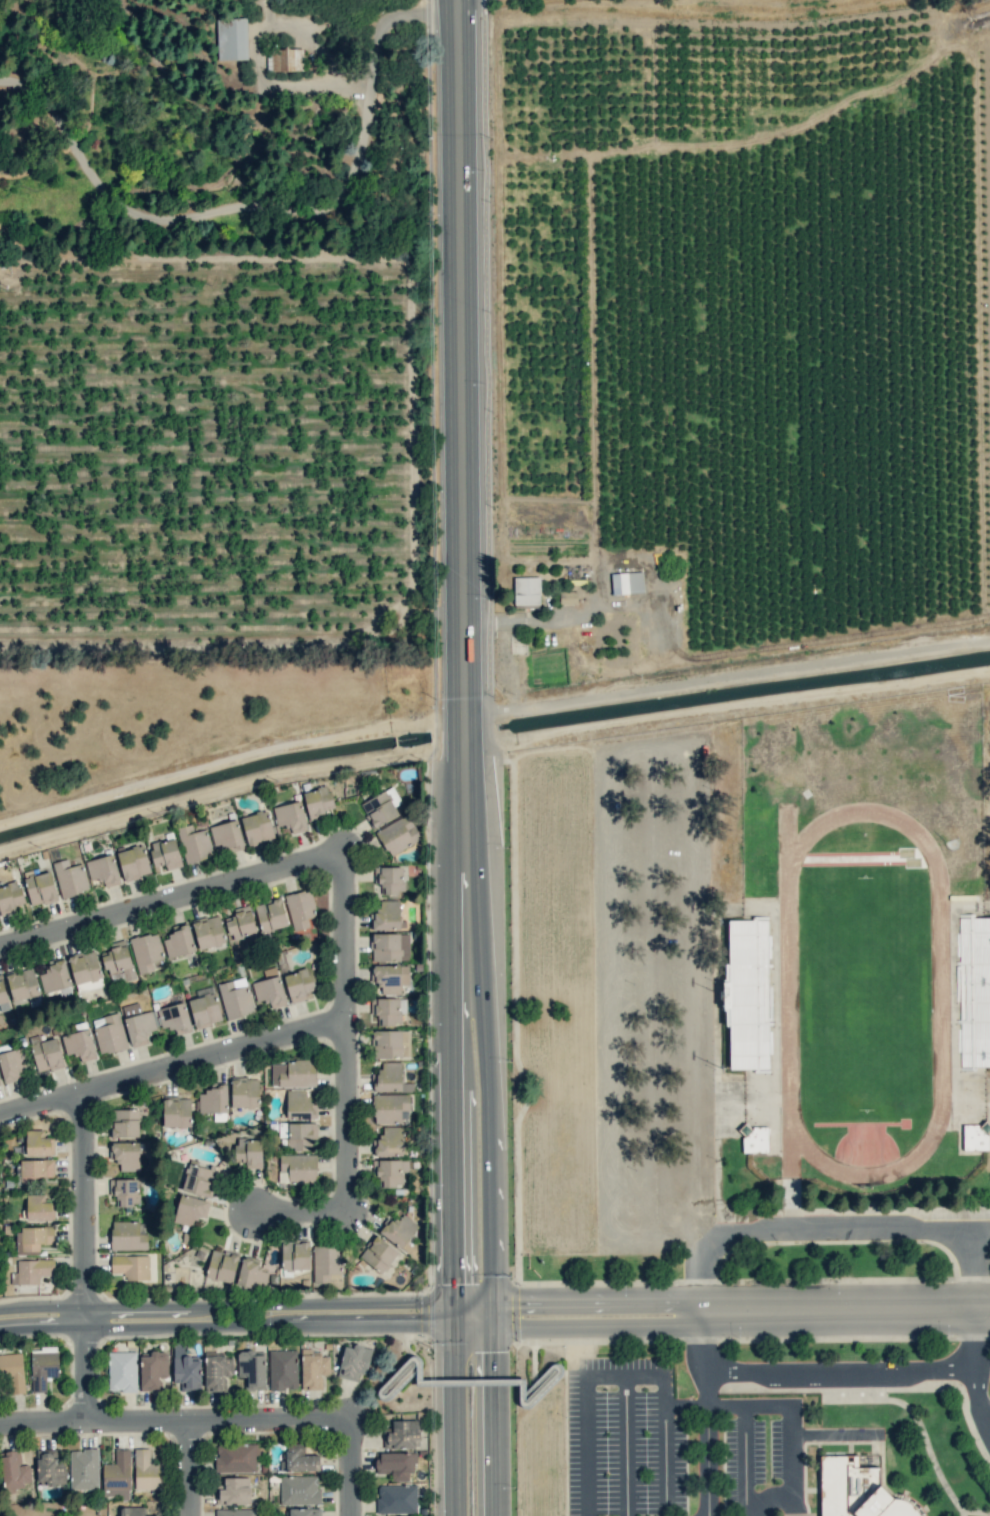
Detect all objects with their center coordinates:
road: (548, 8)
building: (232, 38)
building: (284, 59)
road: (267, 205)
road: (462, 497)
road: (598, 580)
building: (627, 582)
building: (527, 591)
building: (568, 597)
road: (727, 675)
building: (317, 802)
building: (381, 807)
building: (290, 816)
building: (257, 827)
building: (398, 835)
building: (227, 836)
building: (194, 843)
building: (165, 853)
building: (134, 862)
building: (103, 870)
building: (70, 878)
building: (390, 879)
building: (40, 887)
building: (10, 898)
road: (171, 902)
building: (300, 908)
building: (271, 915)
building: (386, 916)
building: (241, 924)
building: (208, 932)
building: (179, 942)
building: (390, 947)
building: (146, 951)
building: (118, 963)
building: (55, 977)
building: (390, 977)
building: (299, 984)
building: (22, 985)
building: (270, 991)
building: (2, 993)
building: (748, 994)
building: (235, 998)
building: (204, 1008)
building: (388, 1010)
building: (175, 1018)
building: (138, 1023)
building: (109, 1033)
road: (345, 1036)
building: (80, 1043)
building: (391, 1044)
building: (46, 1053)
building: (14, 1064)
road: (172, 1071)
building: (294, 1073)
building: (390, 1078)
building: (245, 1092)
building: (214, 1102)
building: (299, 1105)
building: (391, 1108)
building: (177, 1112)
building: (125, 1123)
building: (298, 1134)
building: (975, 1137)
building: (755, 1139)
building: (389, 1141)
building: (38, 1143)
road: (454, 1147)
building: (249, 1152)
building: (125, 1155)
road: (488, 1157)
building: (37, 1168)
building: (297, 1168)
building: (390, 1172)
building: (198, 1180)
building: (125, 1191)
building: (39, 1208)
building: (190, 1209)
road: (301, 1218)
road: (835, 1229)
building: (399, 1232)
building: (127, 1236)
building: (33, 1238)
building: (378, 1254)
building: (295, 1255)
road: (83, 1260)
building: (327, 1263)
building: (131, 1266)
building: (222, 1266)
building: (32, 1271)
building: (252, 1274)
road: (471, 1300)
road: (595, 1303)
road: (226, 1304)
road: (454, 1311)
road: (844, 1311)
road: (594, 1321)
road: (244, 1324)
road: (973, 1339)
building: (354, 1361)
building: (43, 1367)
building: (186, 1368)
building: (153, 1369)
building: (252, 1369)
building: (283, 1369)
building: (313, 1369)
road: (848, 1369)
building: (13, 1371)
building: (122, 1371)
building: (217, 1372)
road: (624, 1373)
building: (398, 1379)
road: (708, 1381)
road: (724, 1405)
road: (986, 1414)
road: (454, 1418)
road: (488, 1418)
road: (175, 1423)
road: (831, 1434)
building: (402, 1435)
road: (625, 1445)
road: (789, 1448)
building: (236, 1457)
building: (299, 1459)
building: (396, 1464)
building: (50, 1468)
road: (351, 1468)
building: (84, 1469)
road: (186, 1469)
building: (15, 1470)
building: (147, 1471)
building: (117, 1476)
building: (299, 1490)
building: (856, 1490)
building: (234, 1491)
building: (396, 1499)
building: (133, 1511)
building: (236, 1512)
building: (304, 1512)

